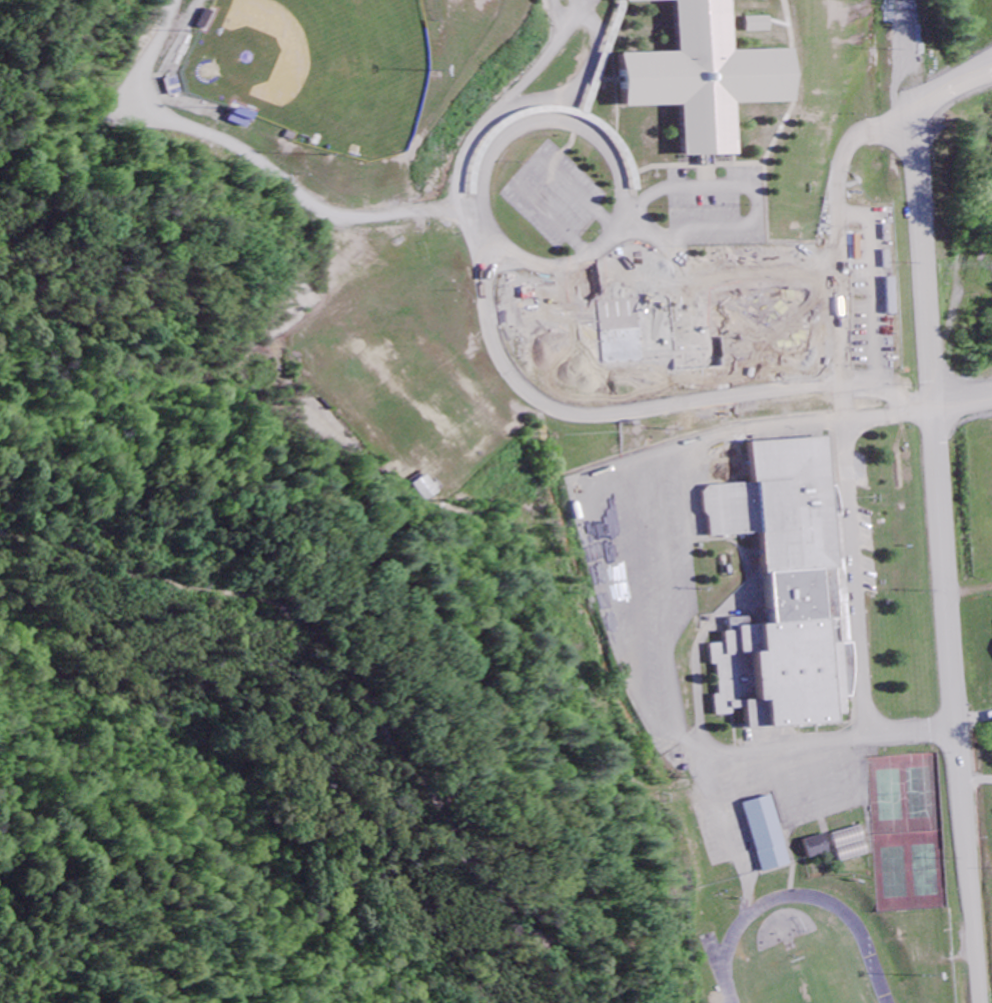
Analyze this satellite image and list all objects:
building: (762, 25)
building: (712, 77)
road: (495, 153)
road: (922, 219)
building: (891, 297)
road: (741, 299)
road: (964, 405)
road: (847, 446)
building: (789, 593)
road: (957, 708)
building: (768, 835)
building: (852, 845)
building: (818, 847)

